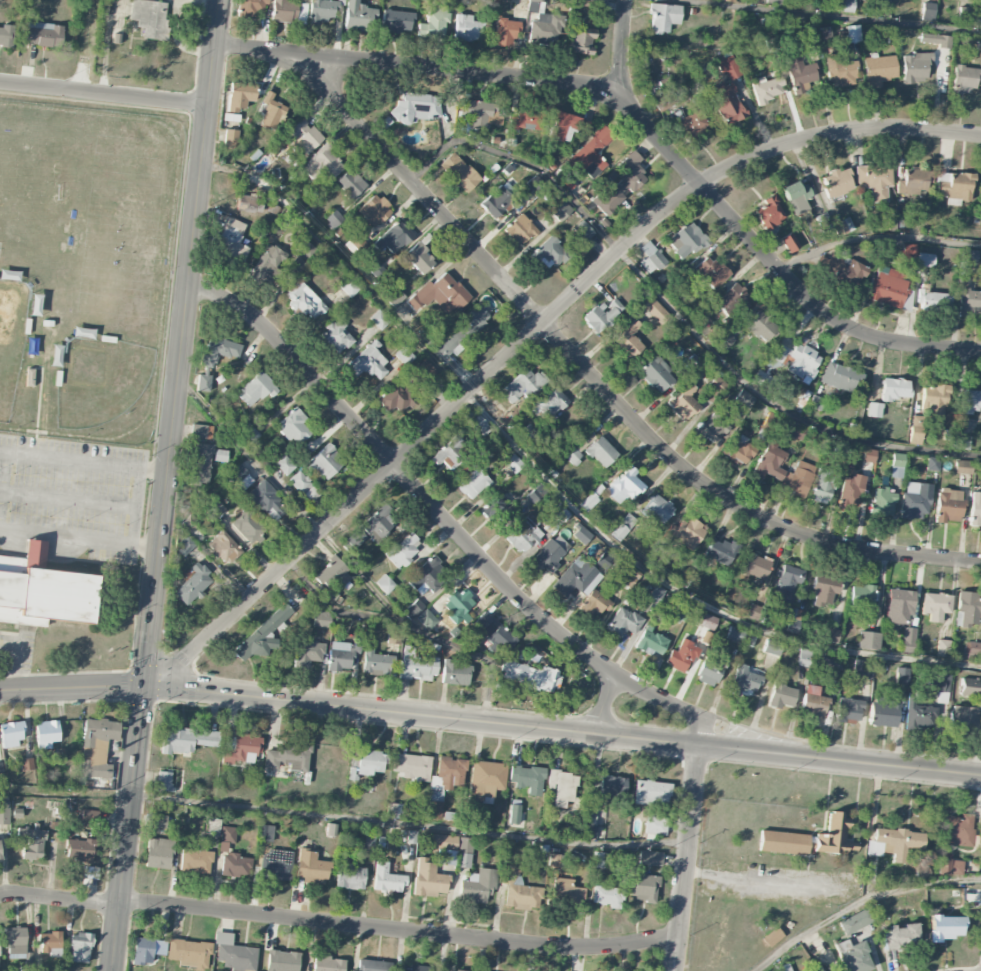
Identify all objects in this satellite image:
building: (979, 0)
building: (773, 1)
building: (251, 6)
building: (845, 6)
building: (883, 8)
building: (322, 10)
building: (284, 11)
building: (928, 11)
building: (965, 14)
building: (360, 16)
road: (832, 16)
building: (664, 17)
building: (151, 18)
building: (976, 19)
building: (397, 21)
building: (433, 23)
building: (544, 24)
building: (467, 29)
building: (506, 32)
building: (851, 33)
building: (42, 34)
building: (809, 34)
building: (6, 35)
building: (581, 40)
building: (935, 40)
building: (978, 44)
road: (86, 45)
road: (622, 62)
building: (729, 68)
building: (915, 68)
building: (879, 69)
building: (840, 71)
building: (801, 73)
building: (964, 80)
building: (767, 88)
road: (100, 93)
building: (240, 96)
building: (726, 103)
building: (416, 107)
building: (272, 112)
building: (477, 113)
road: (635, 115)
building: (528, 119)
building: (565, 125)
building: (693, 126)
building: (303, 136)
building: (230, 138)
building: (590, 153)
building: (322, 164)
building: (459, 172)
building: (874, 181)
building: (912, 182)
building: (837, 183)
building: (350, 184)
building: (620, 185)
building: (955, 187)
building: (796, 196)
building: (250, 203)
building: (374, 210)
building: (561, 211)
building: (770, 213)
building: (334, 219)
building: (902, 221)
building: (842, 226)
building: (520, 229)
building: (583, 231)
building: (393, 237)
road: (876, 239)
building: (232, 240)
building: (687, 240)
building: (789, 242)
building: (304, 248)
building: (547, 252)
building: (900, 255)
building: (968, 256)
building: (419, 258)
building: (651, 258)
building: (925, 259)
building: (267, 265)
building: (374, 267)
building: (843, 270)
building: (710, 272)
building: (9, 275)
building: (888, 287)
building: (439, 294)
building: (395, 298)
building: (733, 300)
building: (932, 300)
building: (304, 301)
building: (970, 303)
building: (35, 305)
road: (676, 313)
building: (602, 316)
building: (475, 319)
building: (761, 326)
building: (83, 333)
road: (533, 333)
building: (336, 337)
building: (629, 341)
building: (724, 341)
road: (174, 342)
building: (447, 344)
building: (219, 351)
building: (56, 355)
building: (404, 355)
building: (369, 364)
building: (423, 373)
road: (590, 373)
building: (656, 373)
building: (29, 377)
building: (840, 377)
building: (203, 383)
building: (523, 385)
building: (717, 385)
building: (257, 389)
building: (895, 389)
building: (395, 397)
building: (744, 399)
building: (971, 399)
building: (934, 400)
building: (683, 401)
building: (550, 403)
building: (874, 410)
building: (293, 427)
building: (480, 427)
building: (712, 428)
building: (792, 430)
building: (916, 430)
building: (201, 431)
building: (249, 433)
building: (961, 442)
building: (840, 449)
building: (601, 452)
building: (739, 452)
building: (449, 453)
building: (220, 455)
building: (571, 455)
building: (869, 457)
road: (80, 460)
building: (325, 462)
building: (770, 462)
building: (200, 464)
building: (932, 464)
building: (285, 465)
building: (896, 465)
building: (963, 467)
road: (399, 472)
building: (241, 478)
building: (800, 479)
road: (548, 482)
building: (473, 484)
building: (624, 486)
building: (823, 486)
building: (304, 487)
building: (849, 492)
building: (535, 495)
road: (287, 497)
building: (267, 501)
building: (881, 501)
building: (915, 501)
building: (948, 505)
building: (215, 506)
building: (657, 509)
building: (975, 509)
building: (190, 523)
building: (248, 527)
building: (372, 528)
building: (618, 532)
building: (687, 532)
building: (524, 534)
building: (581, 534)
road: (76, 538)
building: (186, 544)
building: (223, 547)
building: (403, 550)
building: (721, 551)
building: (550, 553)
building: (754, 566)
building: (333, 574)
building: (428, 575)
building: (630, 577)
building: (577, 578)
building: (787, 583)
building: (193, 584)
building: (385, 584)
building: (825, 590)
building: (43, 591)
building: (655, 595)
building: (861, 597)
building: (594, 603)
building: (458, 604)
building: (899, 606)
building: (935, 606)
building: (413, 609)
building: (967, 609)
building: (680, 610)
building: (321, 619)
building: (426, 619)
building: (794, 620)
building: (707, 621)
building: (623, 622)
building: (735, 634)
building: (263, 635)
building: (394, 635)
building: (830, 635)
building: (909, 637)
building: (869, 640)
building: (650, 643)
building: (772, 647)
building: (942, 648)
building: (973, 651)
building: (308, 653)
road: (474, 654)
building: (681, 656)
building: (804, 658)
building: (375, 661)
building: (416, 665)
building: (864, 669)
building: (710, 670)
building: (455, 673)
building: (530, 676)
building: (745, 680)
building: (940, 682)
traffic signals: (137, 685)
building: (971, 690)
building: (781, 696)
road: (656, 699)
building: (813, 702)
road: (603, 704)
building: (848, 711)
building: (883, 714)
building: (918, 714)
building: (963, 721)
road: (490, 722)
road: (700, 733)
building: (11, 734)
building: (46, 734)
road: (130, 740)
building: (186, 740)
building: (97, 748)
building: (240, 749)
building: (289, 757)
building: (26, 764)
building: (366, 764)
building: (412, 766)
building: (2, 774)
building: (486, 779)
building: (527, 779)
building: (164, 781)
building: (445, 783)
building: (562, 787)
building: (612, 788)
building: (651, 792)
building: (398, 811)
building: (4, 813)
building: (514, 814)
building: (89, 815)
building: (159, 822)
road: (406, 823)
building: (654, 827)
building: (958, 831)
building: (265, 833)
building: (228, 834)
building: (835, 836)
building: (368, 841)
building: (442, 841)
building: (783, 843)
building: (894, 843)
building: (33, 844)
building: (79, 851)
building: (159, 853)
building: (456, 854)
building: (0, 856)
building: (650, 858)
road: (687, 859)
building: (598, 860)
building: (195, 861)
building: (555, 862)
building: (235, 865)
building: (275, 865)
building: (310, 865)
building: (950, 867)
building: (350, 876)
building: (386, 878)
building: (428, 878)
road: (755, 878)
road: (114, 883)
building: (477, 886)
building: (641, 886)
building: (520, 891)
building: (566, 891)
building: (608, 896)
road: (55, 898)
road: (860, 903)
building: (854, 922)
building: (944, 927)
road: (396, 928)
building: (901, 936)
building: (772, 937)
building: (15, 942)
building: (50, 943)
building: (80, 948)
building: (142, 951)
building: (188, 952)
building: (236, 956)
building: (855, 959)
building: (282, 961)
building: (328, 964)
building: (0, 965)
building: (372, 965)
building: (412, 968)
building: (459, 970)

